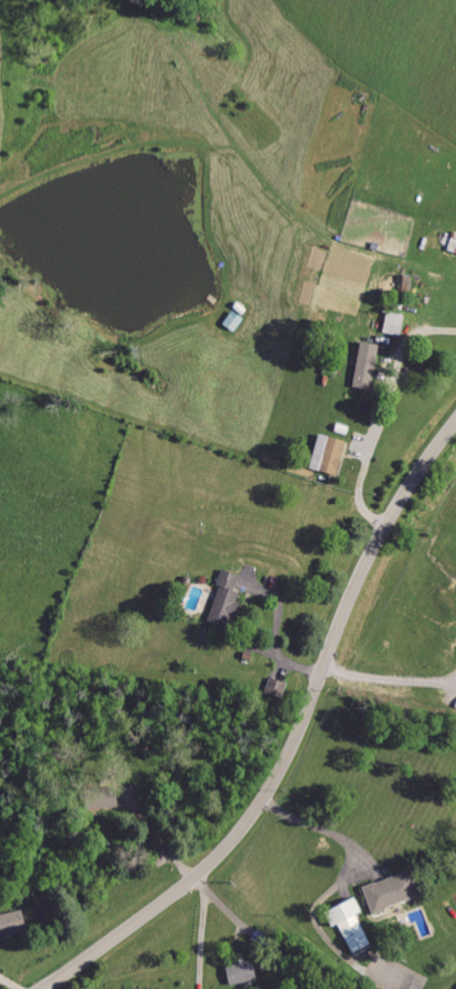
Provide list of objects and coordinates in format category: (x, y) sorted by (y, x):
building: (452, 244)
building: (232, 321)
building: (392, 324)
building: (363, 366)
road: (384, 415)
building: (325, 455)
building: (223, 602)
road: (276, 634)
building: (274, 689)
road: (296, 739)
road: (318, 824)
road: (161, 838)
building: (387, 891)
building: (11, 922)
building: (346, 923)
road: (204, 929)
building: (239, 973)
road: (11, 982)

